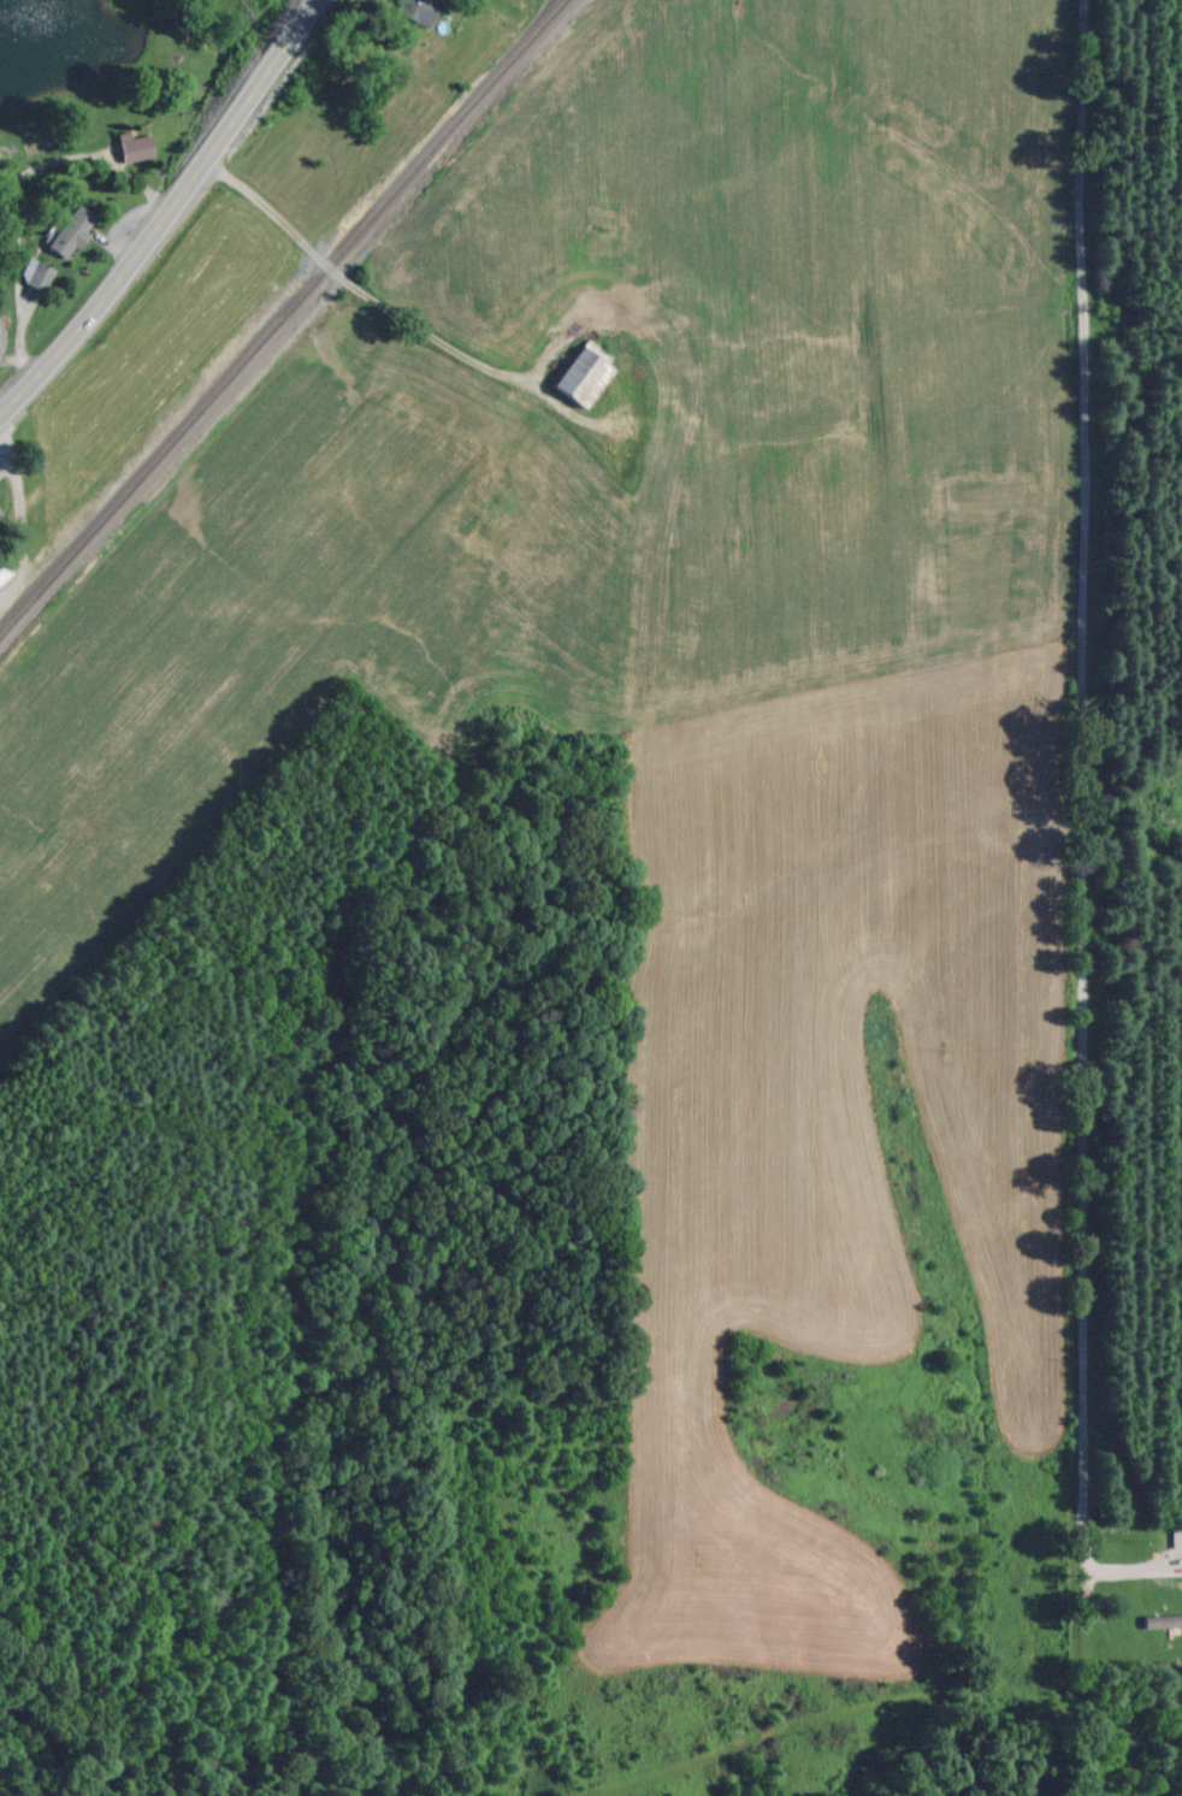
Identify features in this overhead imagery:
building: (413, 8)
building: (132, 144)
road: (8, 165)
road: (16, 177)
road: (167, 213)
building: (503, 229)
building: (67, 230)
building: (37, 274)
road: (392, 305)
railway: (282, 317)
road: (0, 329)
road: (23, 356)
building: (577, 376)
building: (2, 569)
road: (1085, 775)
building: (1158, 1588)

